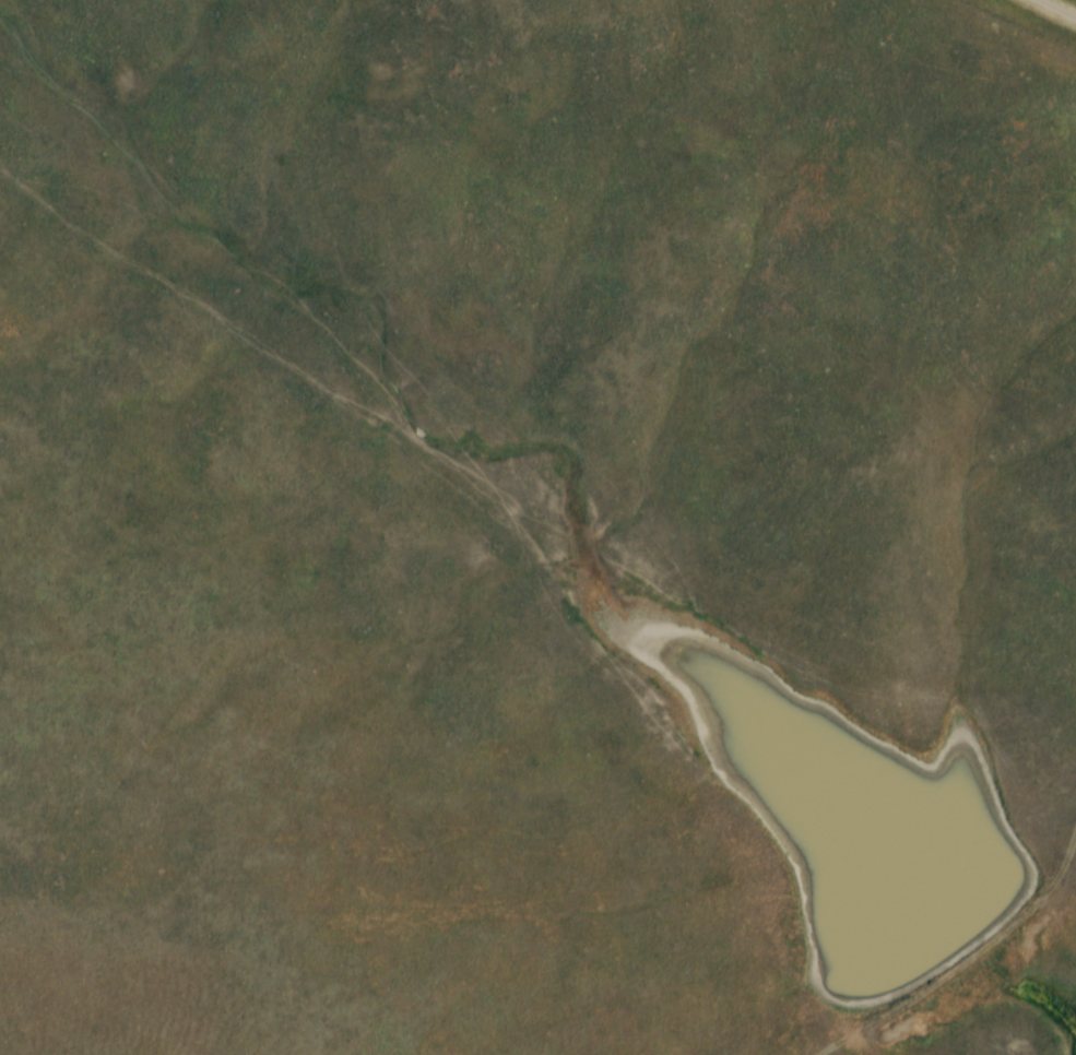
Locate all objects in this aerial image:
road: (1054, 10)

